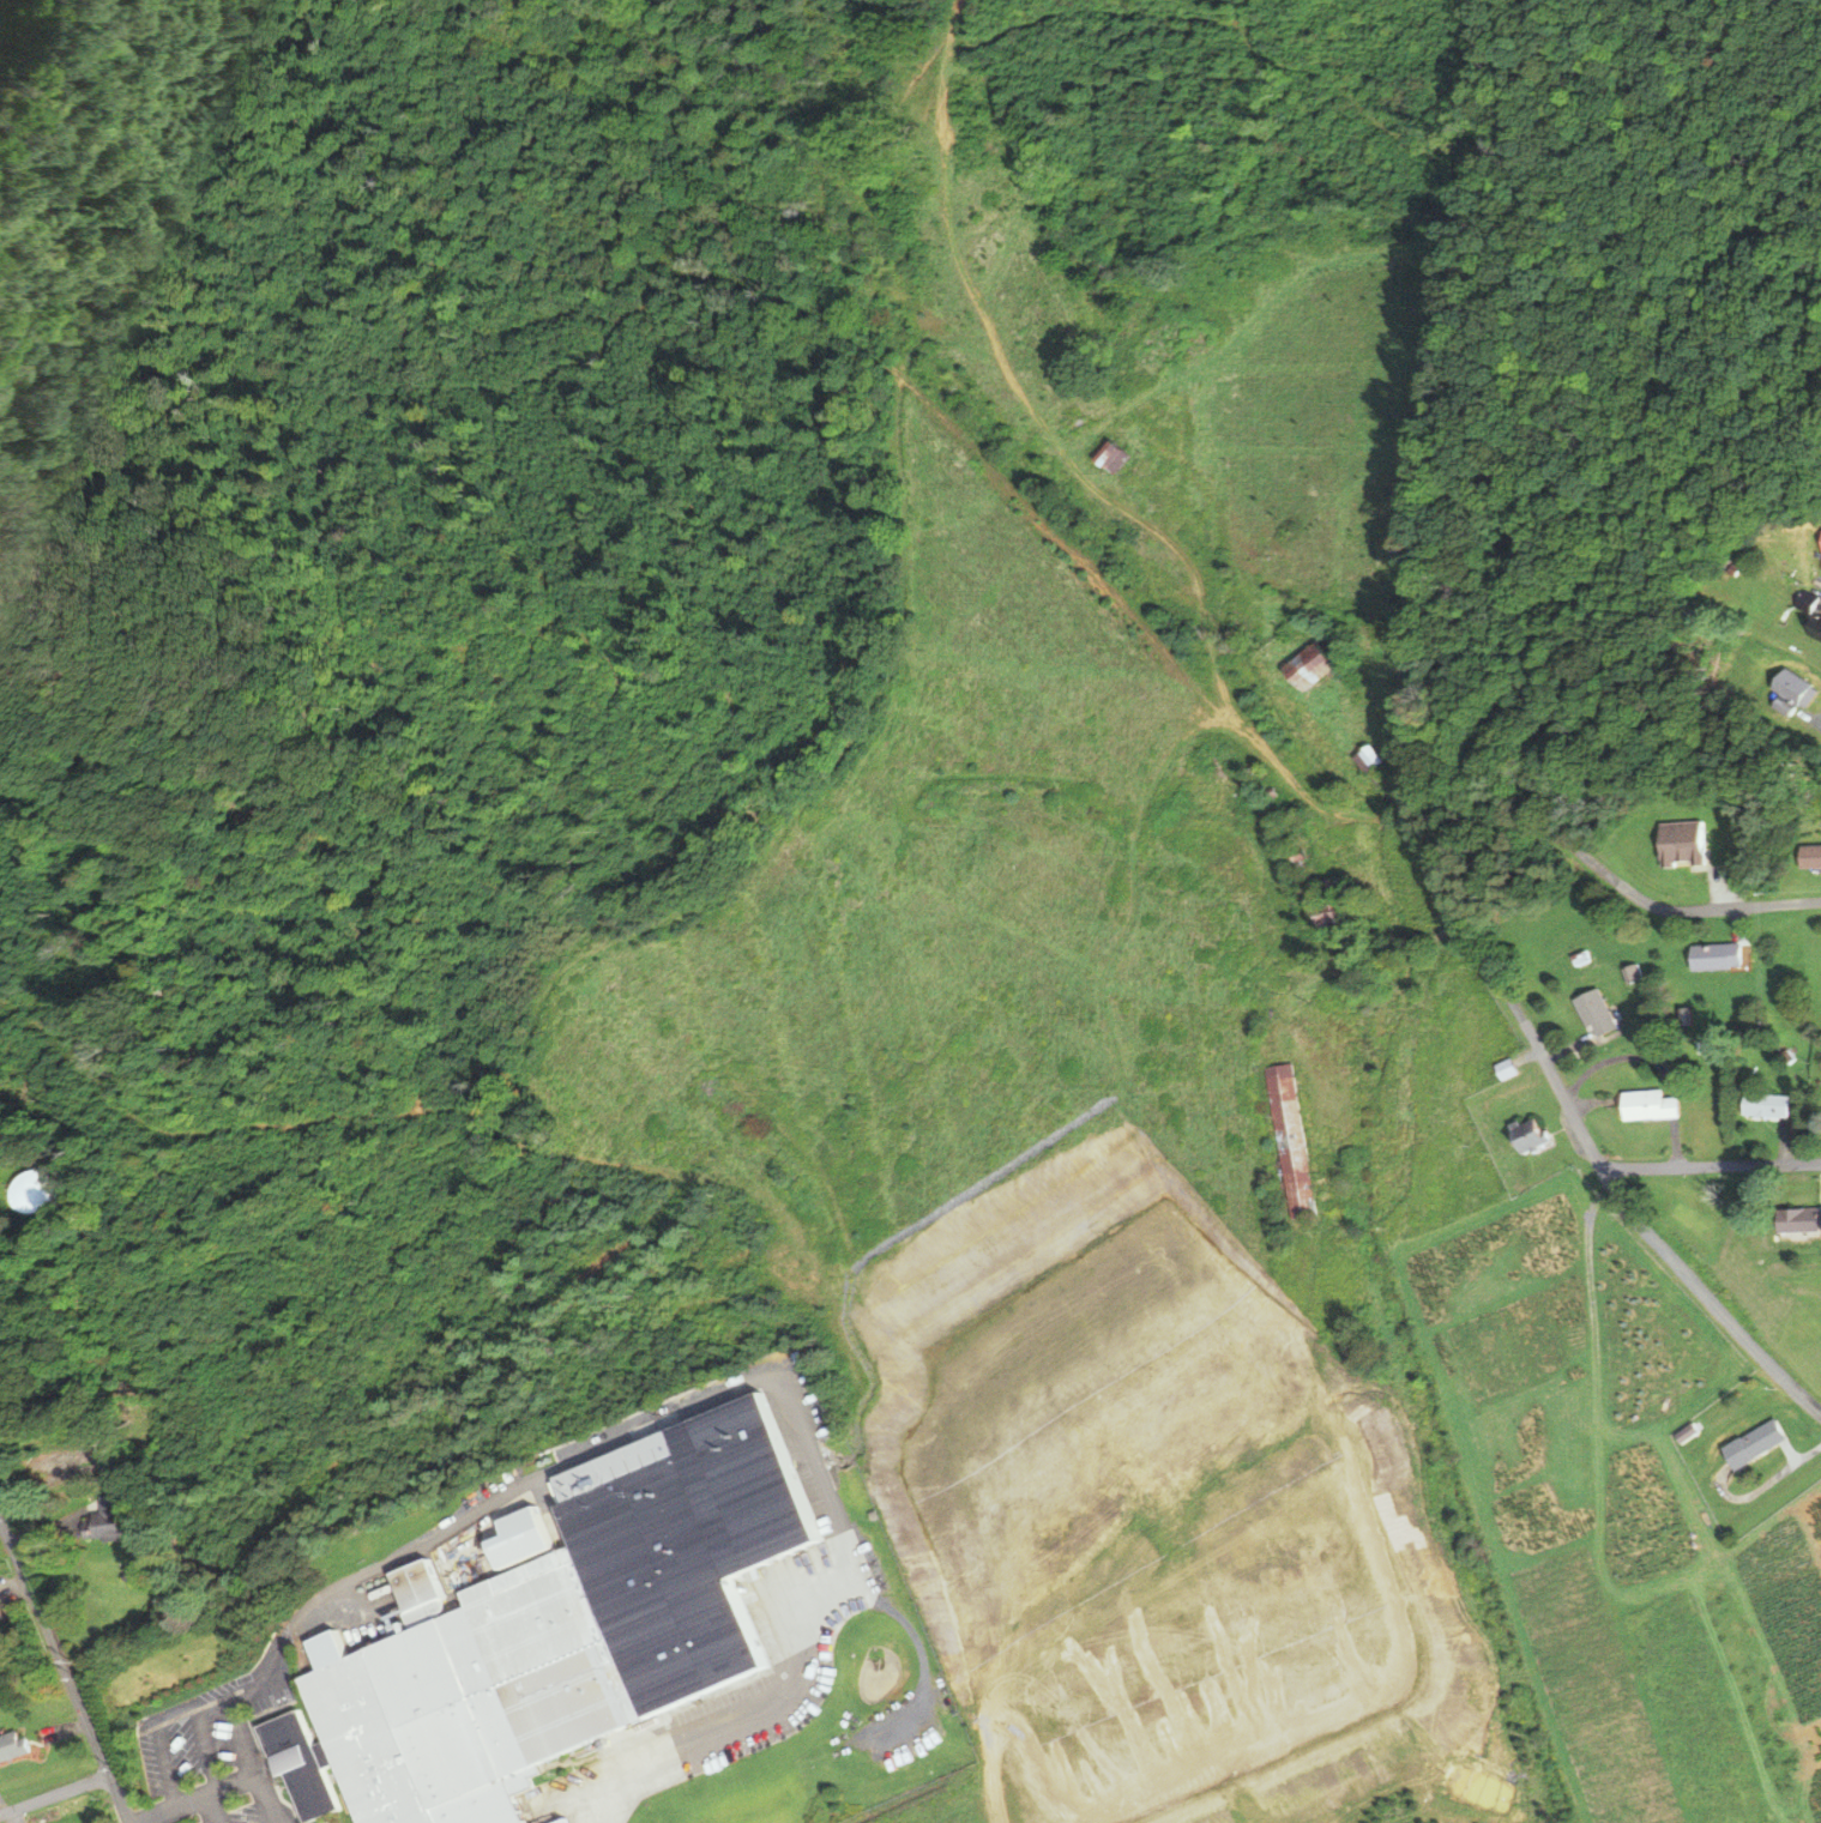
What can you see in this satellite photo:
building: (1110, 457)
building: (1809, 617)
building: (1307, 666)
building: (1781, 686)
road: (1813, 714)
building: (1365, 759)
building: (1681, 844)
building: (1810, 856)
building: (1329, 906)
building: (1716, 956)
road: (1501, 978)
building: (1596, 1013)
building: (1648, 1105)
building: (1765, 1105)
building: (1527, 1136)
building: (1289, 1142)
road: (1712, 1165)
building: (29, 1193)
building: (1798, 1221)
building: (1754, 1444)
building: (107, 1522)
building: (554, 1634)
road: (64, 1671)
road: (215, 1702)
road: (163, 1741)
building: (12, 1744)
road: (54, 1793)
road: (198, 1798)
road: (264, 1798)
road: (217, 1806)
road: (221, 1821)

